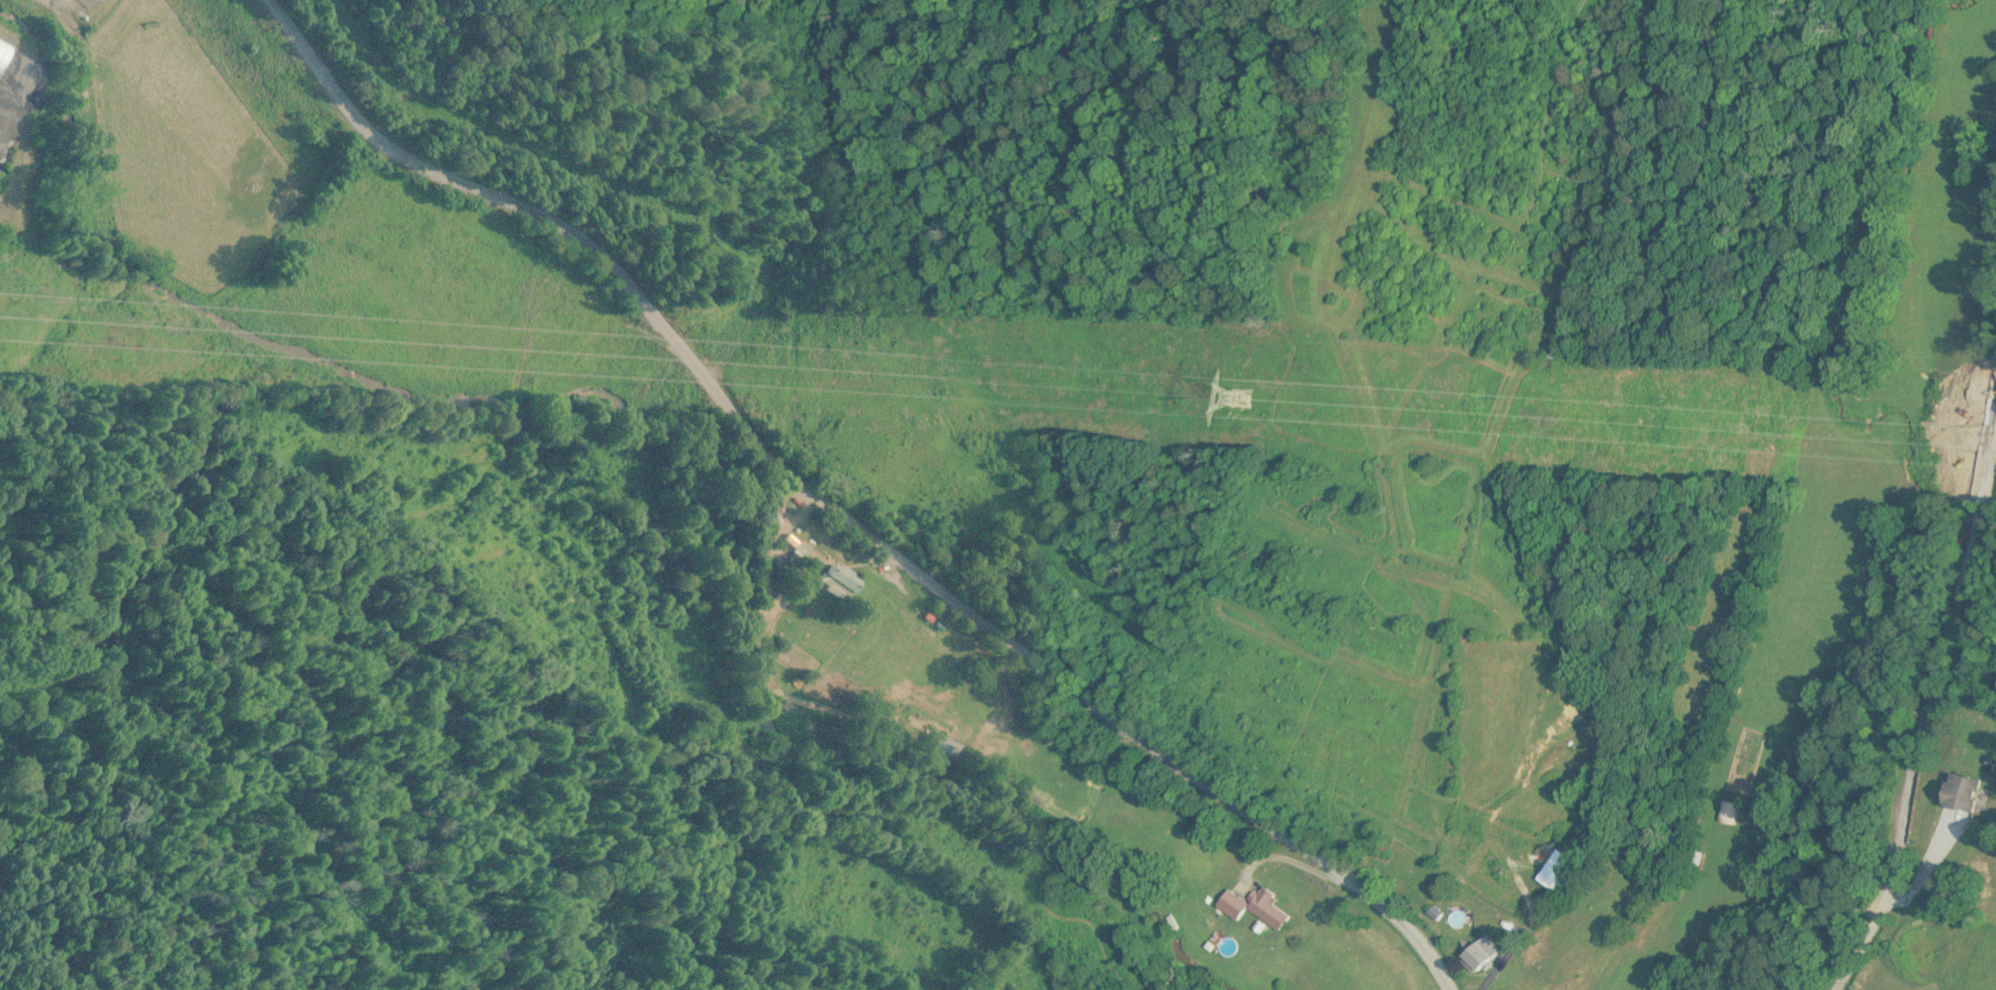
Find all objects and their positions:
building: (106, 0)
power tower: (1259, 400)
road: (840, 512)
building: (800, 556)
building: (840, 583)
road: (1932, 706)
building: (1965, 796)
building: (1695, 862)
building: (1254, 908)
building: (1478, 955)

